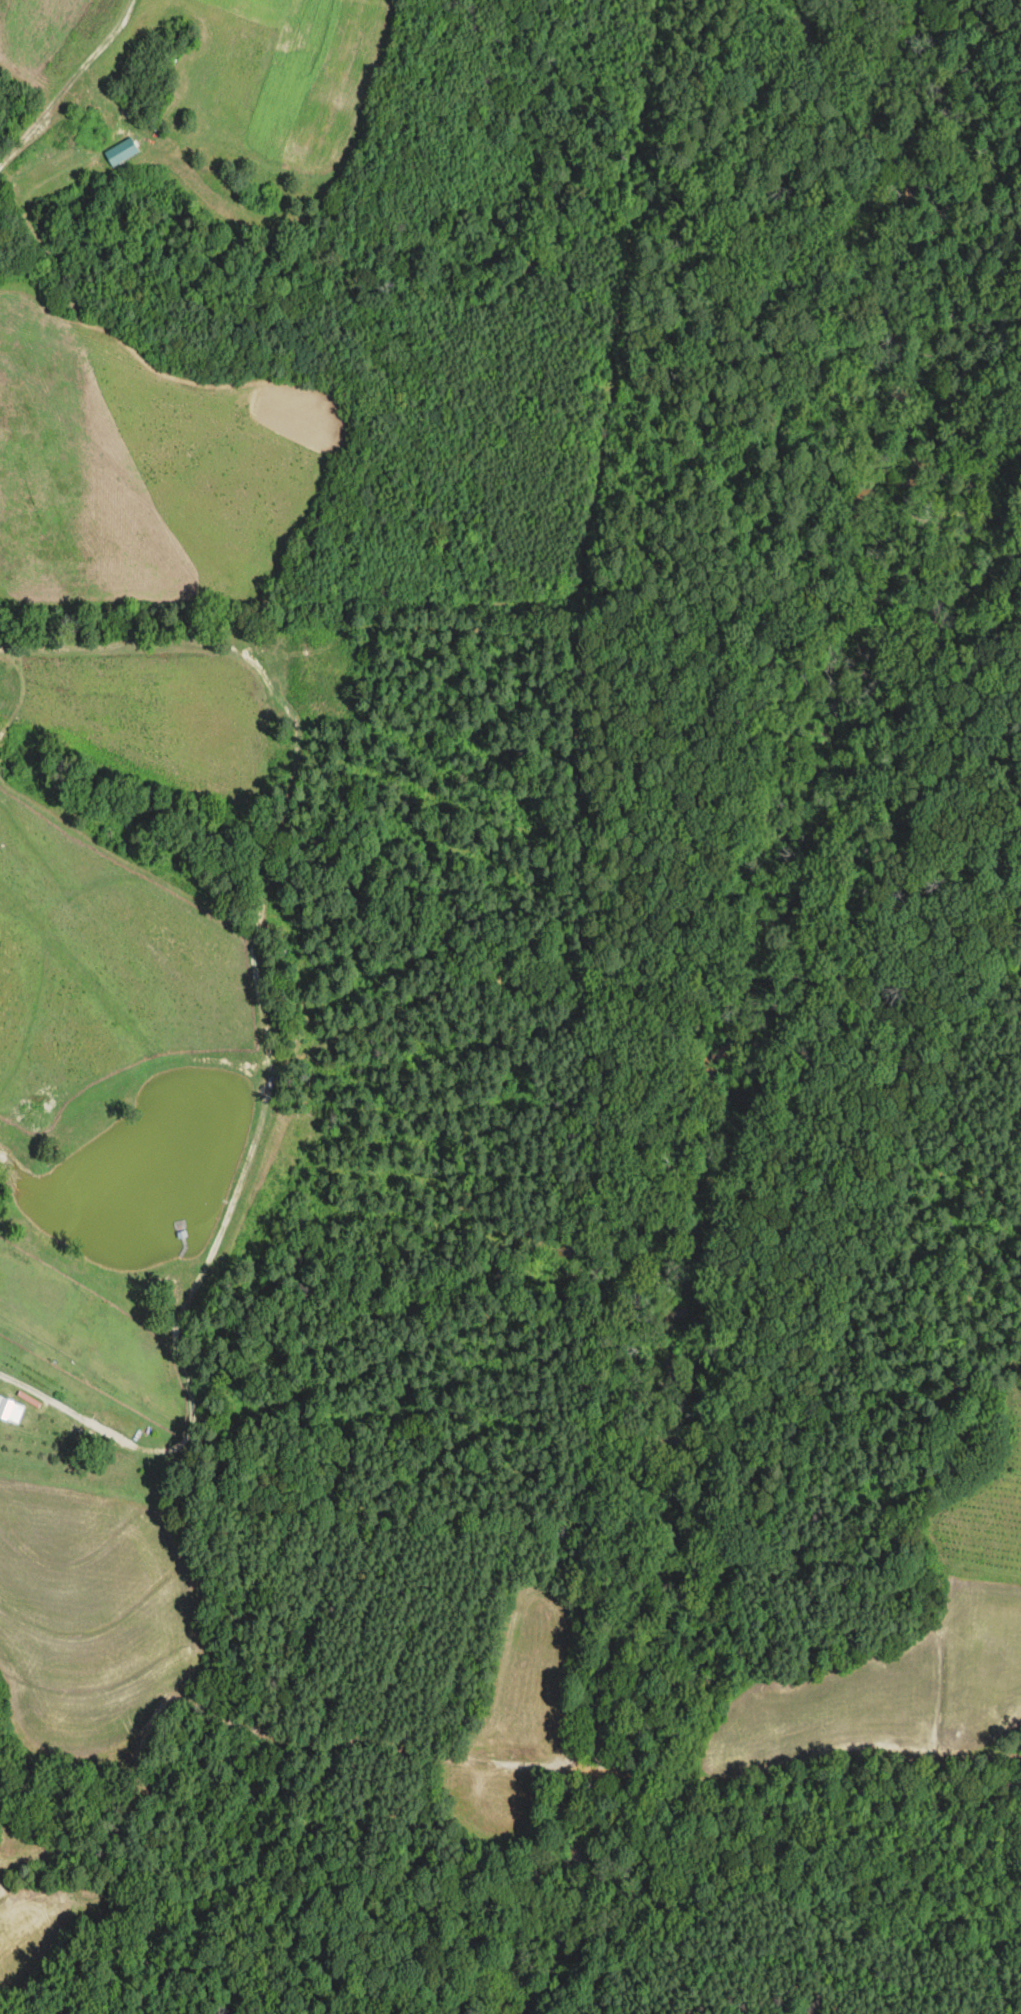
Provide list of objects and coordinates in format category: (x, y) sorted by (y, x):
road: (68, 80)
road: (185, 1374)

